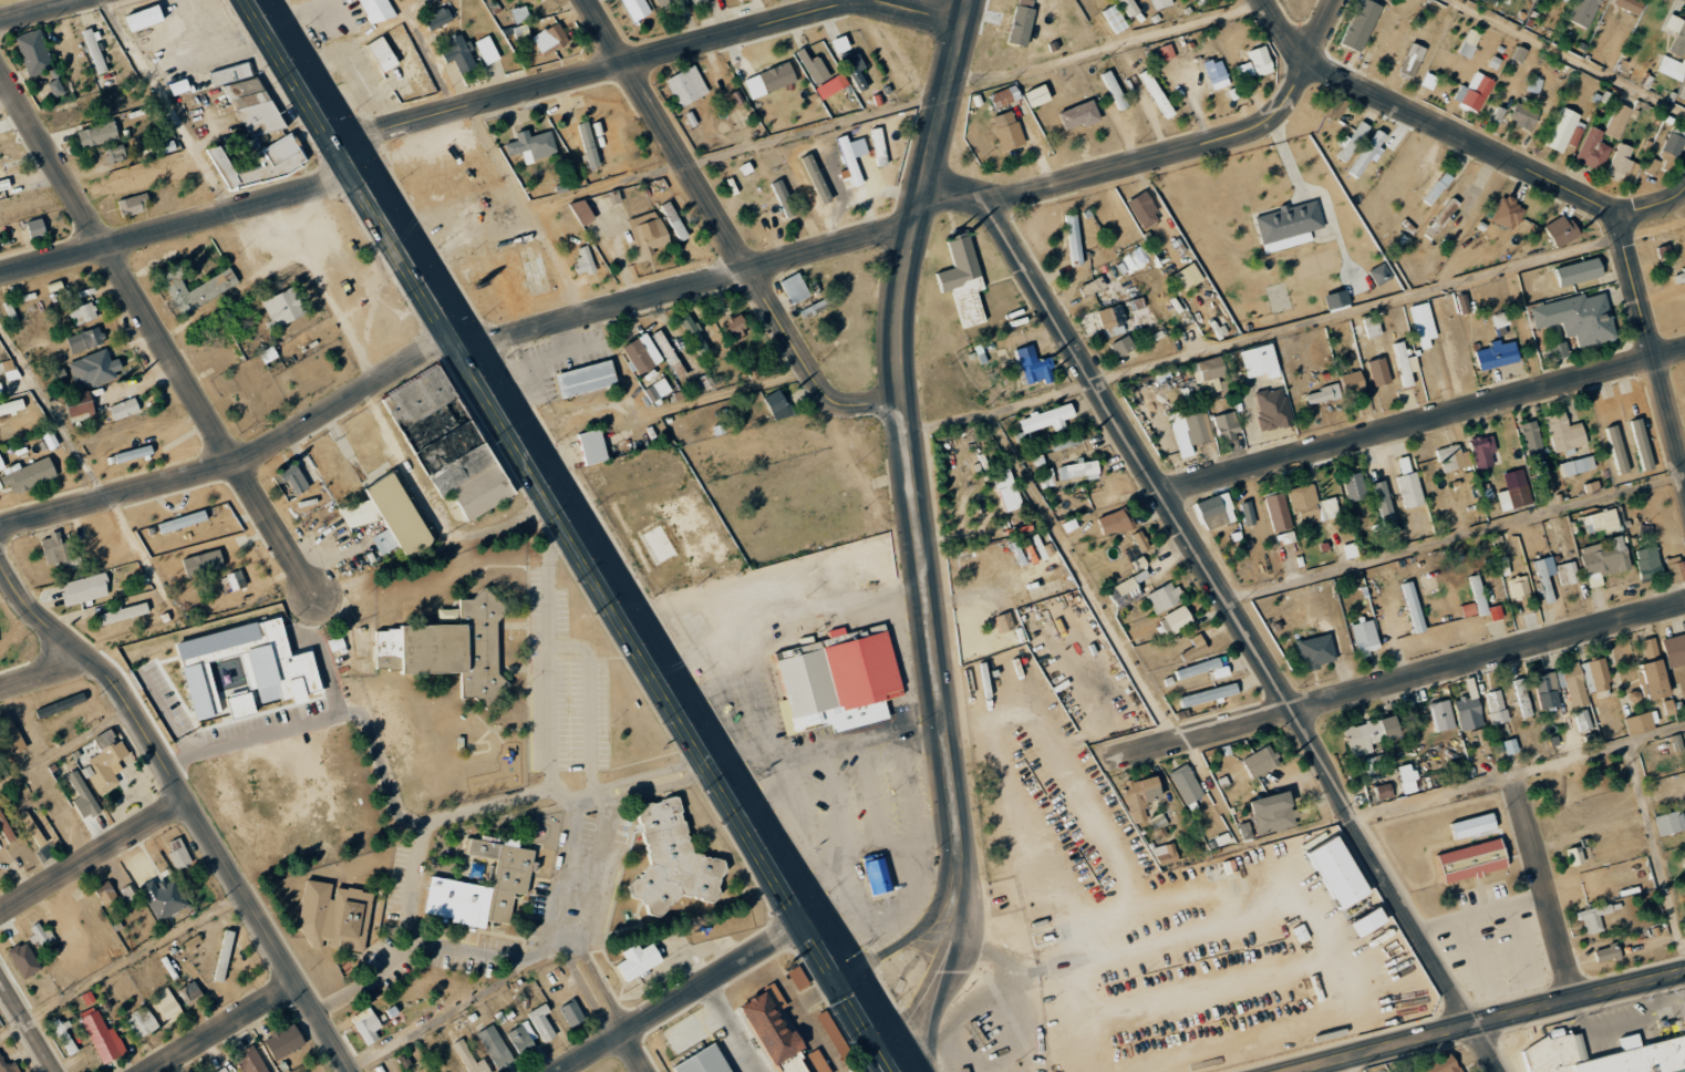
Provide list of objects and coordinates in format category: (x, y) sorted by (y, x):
building: (693, 0)
building: (1567, 0)
building: (1160, 3)
building: (1630, 4)
building: (1128, 7)
road: (919, 8)
building: (634, 9)
road: (38, 10)
building: (374, 11)
building: (1583, 12)
building: (520, 14)
building: (144, 18)
building: (440, 18)
building: (1114, 18)
building: (1022, 24)
building: (1362, 24)
road: (1326, 30)
building: (521, 32)
building: (1677, 34)
building: (550, 39)
building: (1469, 43)
building: (840, 44)
building: (94, 50)
building: (1167, 51)
building: (34, 52)
building: (458, 53)
building: (382, 54)
building: (489, 54)
building: (1520, 54)
building: (1261, 60)
building: (1412, 61)
building: (814, 68)
building: (1672, 68)
road: (599, 70)
building: (855, 70)
building: (1244, 70)
building: (1217, 73)
building: (230, 74)
building: (769, 80)
building: (1429, 81)
building: (1534, 84)
building: (686, 85)
building: (831, 85)
building: (55, 87)
building: (1114, 90)
building: (1474, 92)
building: (1157, 93)
building: (1683, 93)
building: (1038, 94)
building: (1005, 95)
building: (254, 110)
building: (1078, 115)
building: (1522, 116)
building: (1616, 121)
building: (1006, 130)
building: (1563, 130)
building: (97, 134)
building: (1353, 141)
building: (1675, 141)
building: (588, 144)
building: (531, 145)
building: (165, 147)
building: (1592, 150)
building: (1368, 153)
building: (115, 154)
building: (849, 161)
building: (1622, 163)
road: (1135, 164)
building: (1652, 166)
building: (270, 169)
building: (128, 177)
building: (816, 177)
road: (1548, 181)
building: (4, 186)
building: (1437, 188)
building: (783, 197)
road: (1653, 204)
building: (134, 205)
building: (1144, 209)
building: (582, 210)
building: (1508, 213)
building: (1441, 218)
building: (674, 220)
road: (182, 225)
building: (1288, 226)
building: (35, 228)
building: (1563, 230)
building: (649, 233)
road: (724, 233)
building: (1074, 238)
building: (1663, 250)
building: (1134, 260)
building: (583, 261)
building: (1578, 271)
building: (1381, 274)
building: (1187, 277)
building: (963, 279)
road: (692, 285)
building: (195, 287)
building: (795, 288)
building: (1095, 290)
building: (1278, 297)
building: (1336, 300)
building: (282, 306)
building: (815, 308)
building: (82, 313)
building: (1578, 317)
building: (1110, 321)
building: (1500, 322)
building: (1423, 323)
building: (1373, 326)
building: (736, 328)
road: (158, 333)
building: (694, 336)
building: (85, 339)
building: (1123, 346)
building: (640, 352)
building: (669, 353)
building: (1498, 354)
building: (1261, 360)
building: (1406, 363)
building: (1034, 365)
building: (9, 369)
building: (93, 369)
building: (1379, 371)
building: (59, 373)
building: (1209, 374)
building: (586, 379)
building: (1353, 382)
building: (658, 390)
building: (1324, 393)
building: (778, 404)
building: (11, 406)
building: (80, 406)
building: (124, 408)
building: (1272, 409)
building: (1047, 418)
road: (1423, 420)
building: (1226, 425)
building: (1189, 432)
building: (1563, 433)
road: (908, 436)
building: (1530, 437)
building: (1066, 441)
building: (448, 443)
building: (1642, 443)
building: (592, 446)
building: (1616, 449)
building: (1482, 451)
building: (134, 453)
building: (1454, 457)
road: (536, 460)
road: (242, 461)
building: (1404, 465)
building: (1577, 465)
building: (1079, 470)
building: (28, 474)
building: (293, 478)
building: (1046, 481)
building: (1354, 486)
building: (1006, 489)
building: (1409, 489)
building: (1513, 491)
building: (1311, 505)
building: (1384, 507)
building: (1216, 511)
building: (1278, 511)
building: (1247, 513)
building: (389, 516)
building: (183, 520)
building: (1600, 520)
building: (1115, 522)
building: (1644, 530)
building: (1140, 539)
building: (657, 545)
building: (59, 549)
building: (1604, 559)
building: (203, 563)
building: (1658, 565)
building: (1568, 573)
building: (1546, 578)
building: (236, 579)
building: (1519, 586)
building: (1131, 587)
building: (84, 588)
building: (1478, 594)
building: (1164, 597)
building: (1414, 606)
building: (122, 614)
building: (1176, 620)
building: (1003, 622)
road: (1247, 631)
building: (1365, 637)
building: (452, 647)
road: (578, 647)
building: (1195, 647)
building: (1674, 650)
building: (1316, 651)
building: (1198, 668)
building: (245, 669)
building: (1221, 671)
building: (1653, 672)
road: (43, 673)
building: (1595, 678)
building: (838, 680)
road: (1402, 680)
building: (1574, 684)
building: (1546, 691)
building: (1209, 694)
building: (1522, 698)
building: (60, 705)
building: (1495, 707)
building: (1439, 710)
building: (1468, 712)
building: (1582, 720)
building: (1641, 723)
road: (285, 729)
building: (11, 734)
building: (1371, 734)
building: (1676, 742)
building: (1495, 743)
road: (65, 748)
building: (106, 760)
building: (1260, 761)
road: (1520, 770)
building: (1407, 777)
building: (1186, 784)
building: (1383, 791)
road: (568, 794)
building: (82, 796)
road: (604, 796)
building: (1140, 796)
road: (187, 805)
building: (1273, 812)
building: (1671, 823)
building: (1159, 824)
road: (426, 826)
building: (6, 828)
building: (32, 828)
building: (1245, 831)
road: (90, 853)
building: (178, 853)
building: (1165, 854)
building: (1575, 855)
road: (568, 859)
building: (1682, 859)
building: (672, 860)
building: (1472, 860)
building: (1338, 873)
building: (877, 876)
building: (483, 885)
road: (1543, 887)
building: (105, 893)
building: (164, 897)
building: (335, 917)
building: (1593, 918)
building: (1368, 921)
building: (1684, 925)
road: (910, 937)
building: (193, 944)
building: (1606, 954)
building: (24, 959)
building: (639, 960)
road: (121, 963)
road: (941, 970)
traffic signals: (848, 979)
building: (189, 991)
road: (688, 996)
road: (859, 996)
road: (604, 1002)
building: (166, 1007)
building: (571, 1013)
building: (541, 1022)
road: (1491, 1022)
building: (141, 1023)
road: (1622, 1024)
building: (366, 1025)
road: (220, 1027)
road: (732, 1028)
road: (20, 1032)
building: (683, 1033)
building: (775, 1035)
building: (103, 1038)
building: (521, 1039)
building: (285, 1040)
building: (495, 1047)
building: (1605, 1055)
traffic signals: (898, 1056)
building: (471, 1059)
building: (251, 1061)
building: (404, 1062)
building: (704, 1062)
building: (1441, 1064)
building: (8, 1066)
building: (221, 1070)
road: (344, 1070)
building: (964, 1070)
building: (433, 1071)

